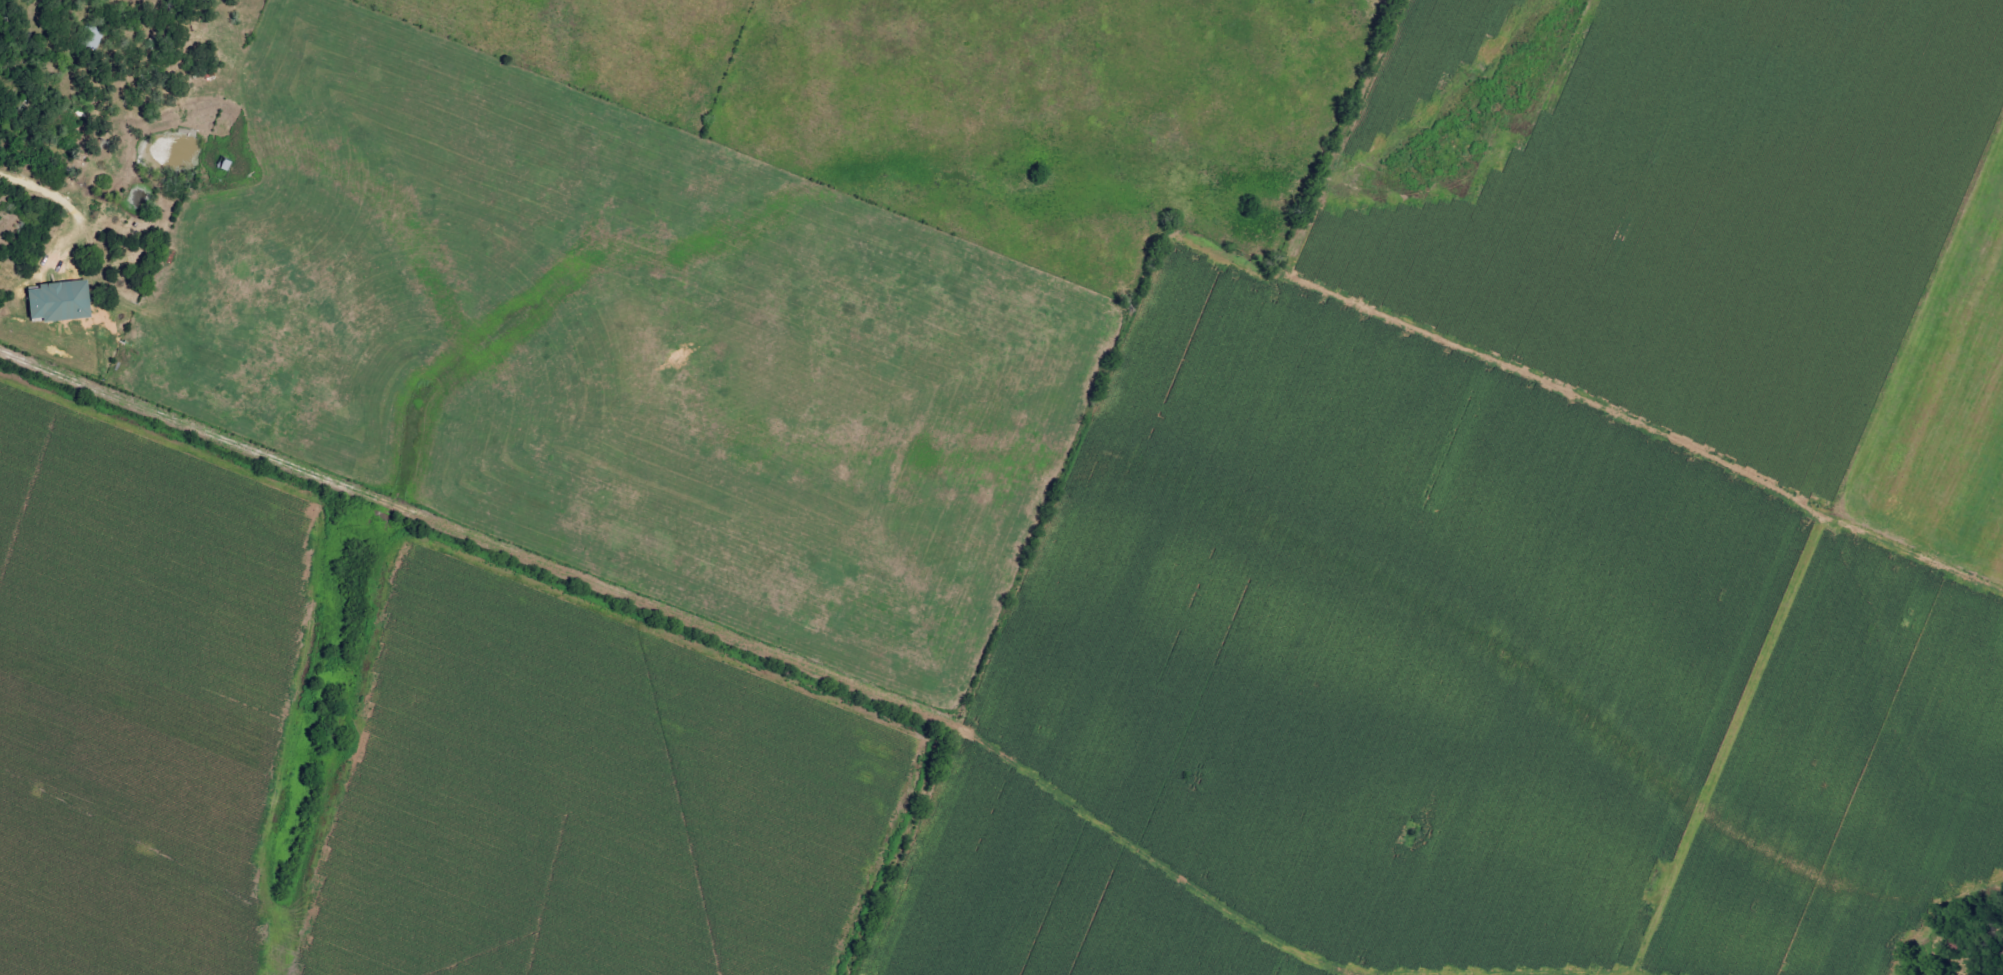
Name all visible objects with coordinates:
road: (44, 189)
building: (54, 302)
road: (1814, 538)

